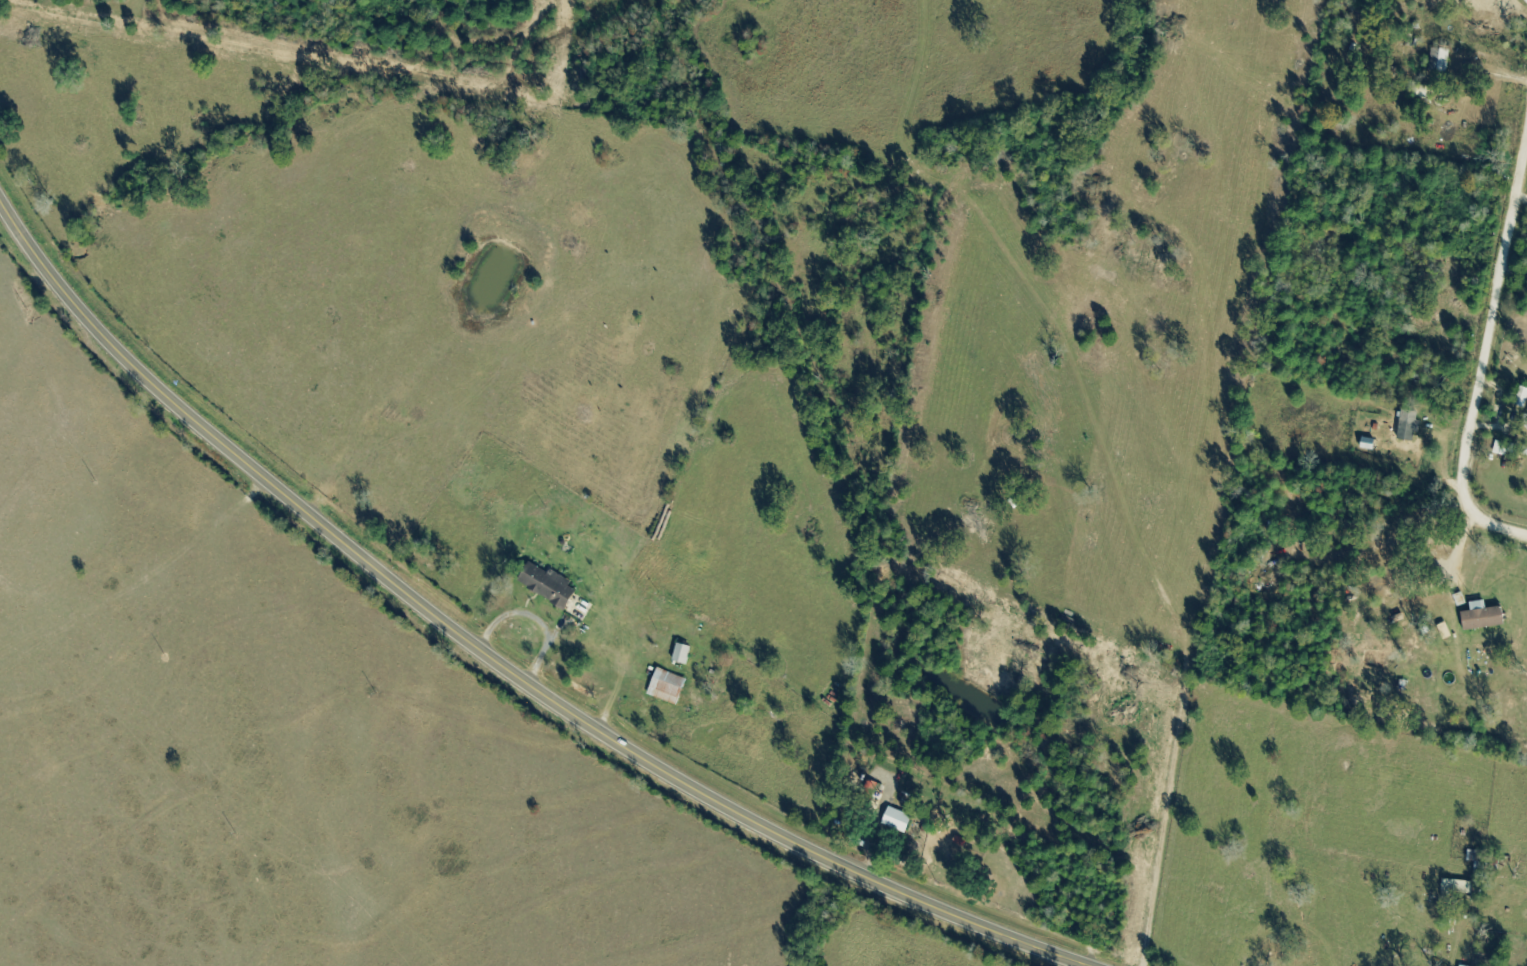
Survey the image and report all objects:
road: (1485, 350)
building: (1526, 423)
building: (1411, 426)
building: (550, 586)
building: (1485, 618)
building: (685, 655)
road: (493, 657)
building: (669, 688)
building: (900, 820)
building: (1481, 871)

